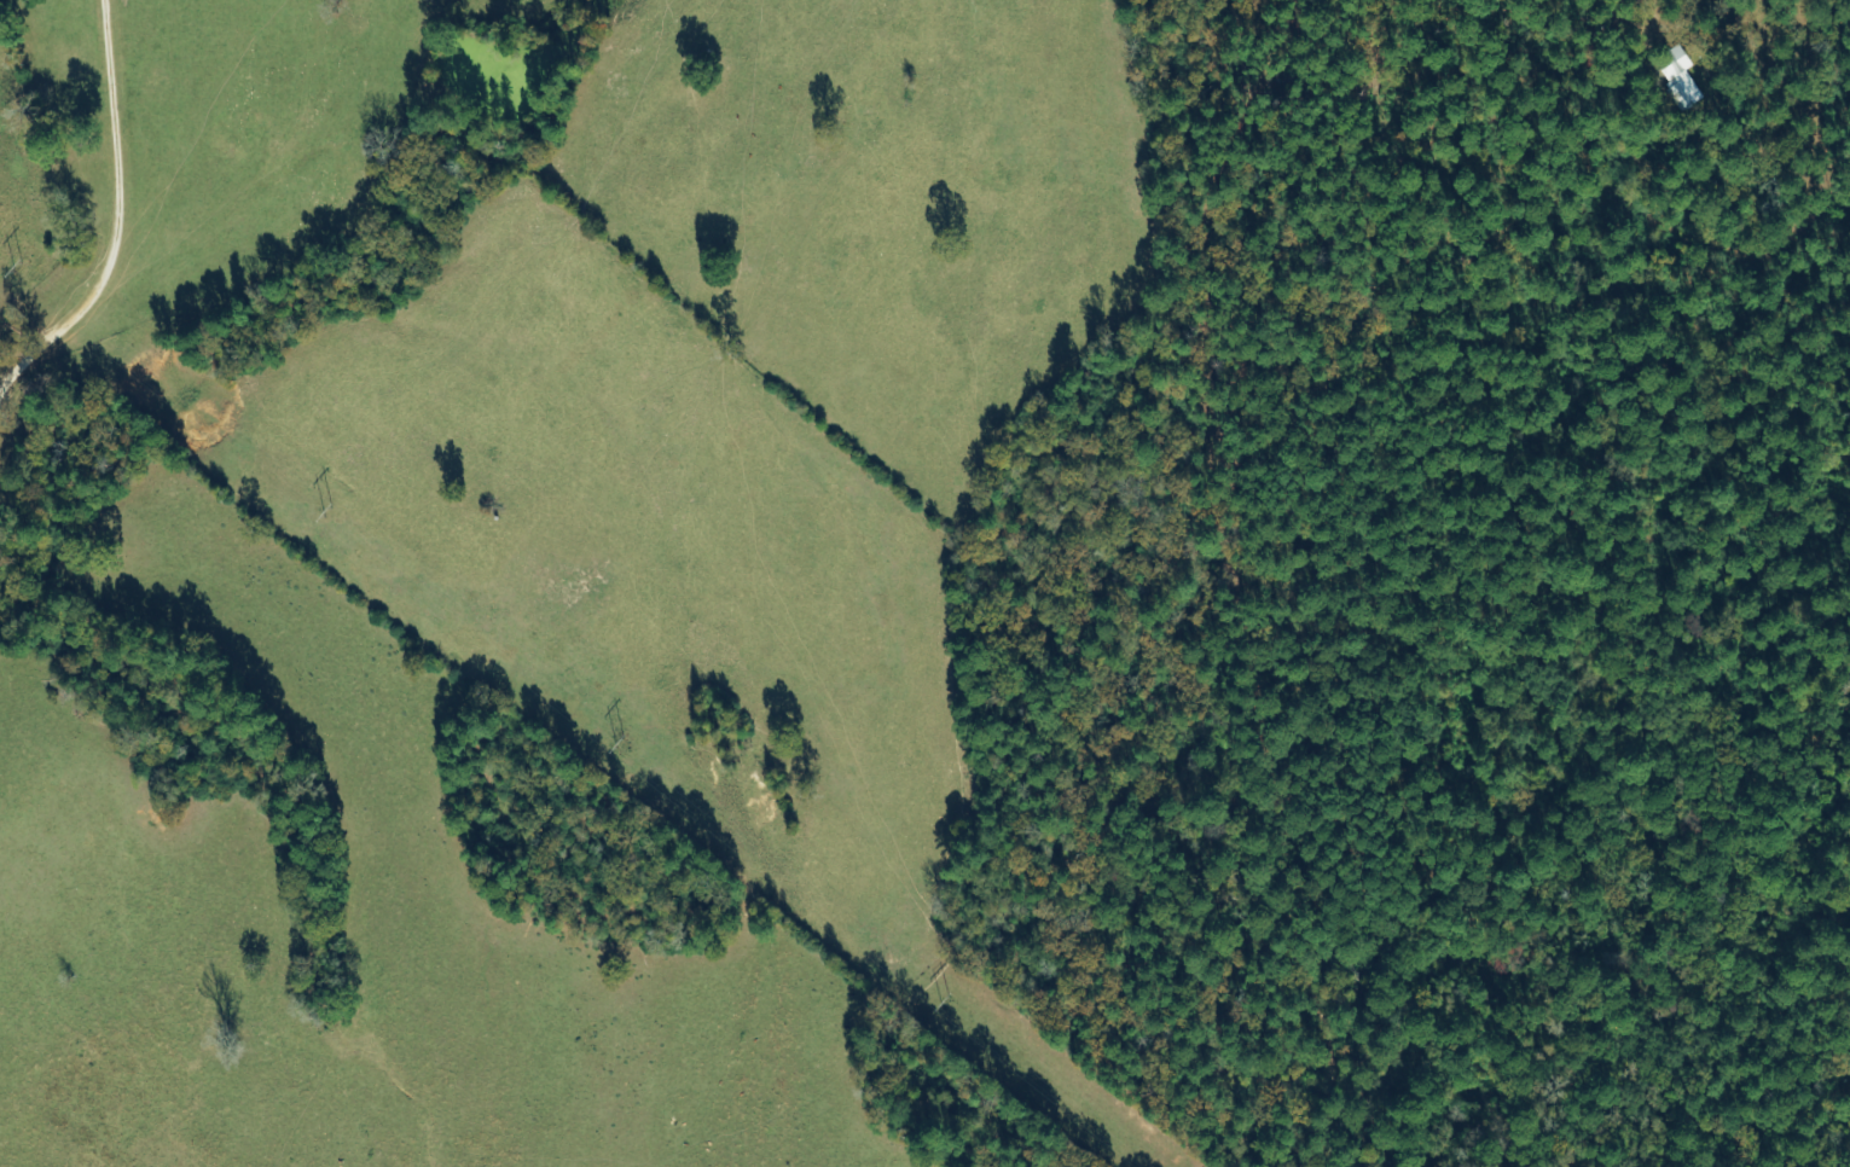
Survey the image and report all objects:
building: (1678, 76)
road: (127, 203)
power tower: (19, 263)
power tower: (329, 511)
power tower: (617, 743)
power tower: (944, 998)

